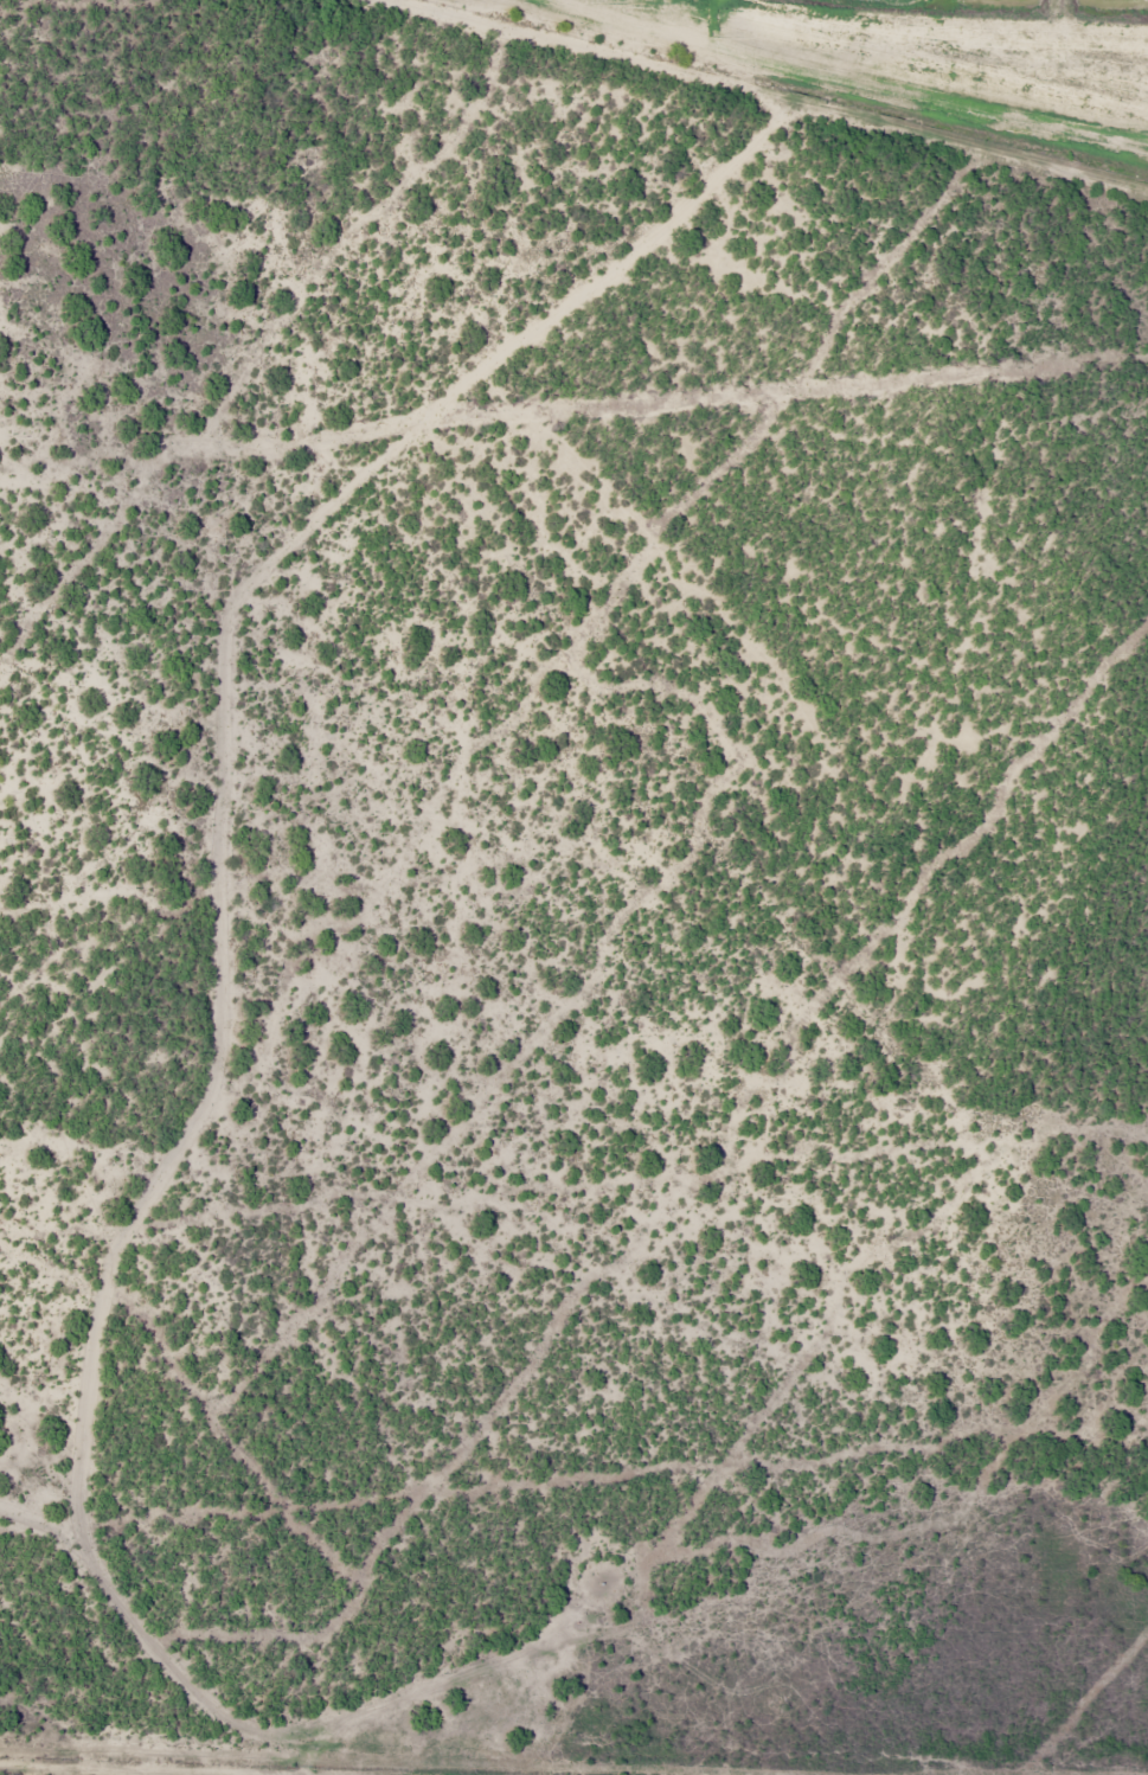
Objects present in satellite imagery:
road: (829, 77)

